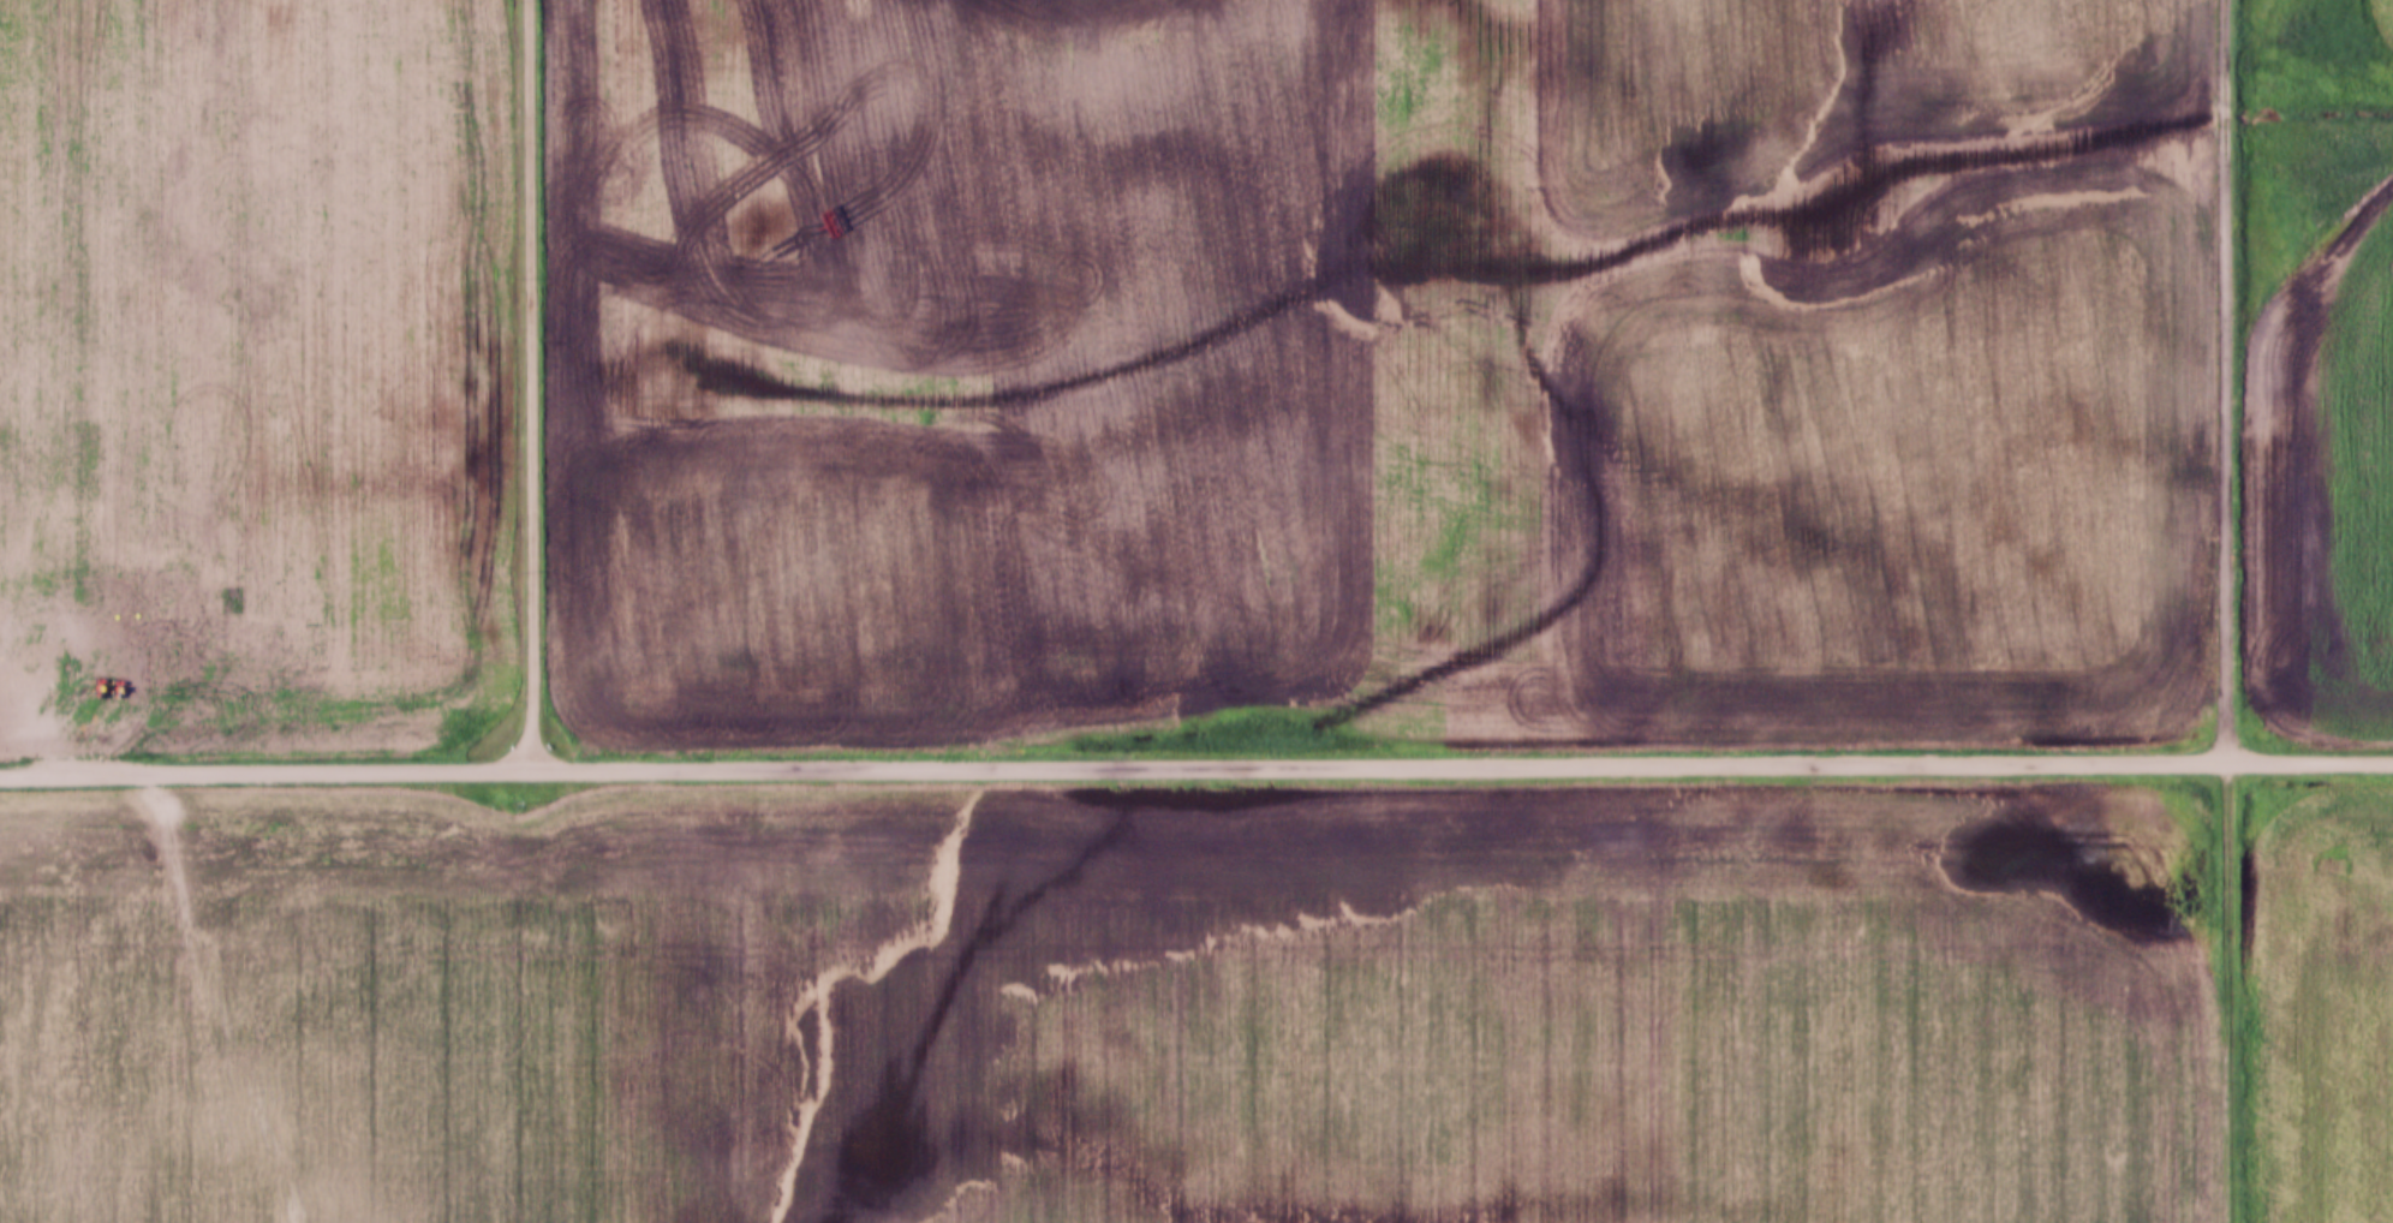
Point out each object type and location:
road: (533, 383)
road: (2231, 611)
road: (1195, 768)
building: (2228, 1203)

